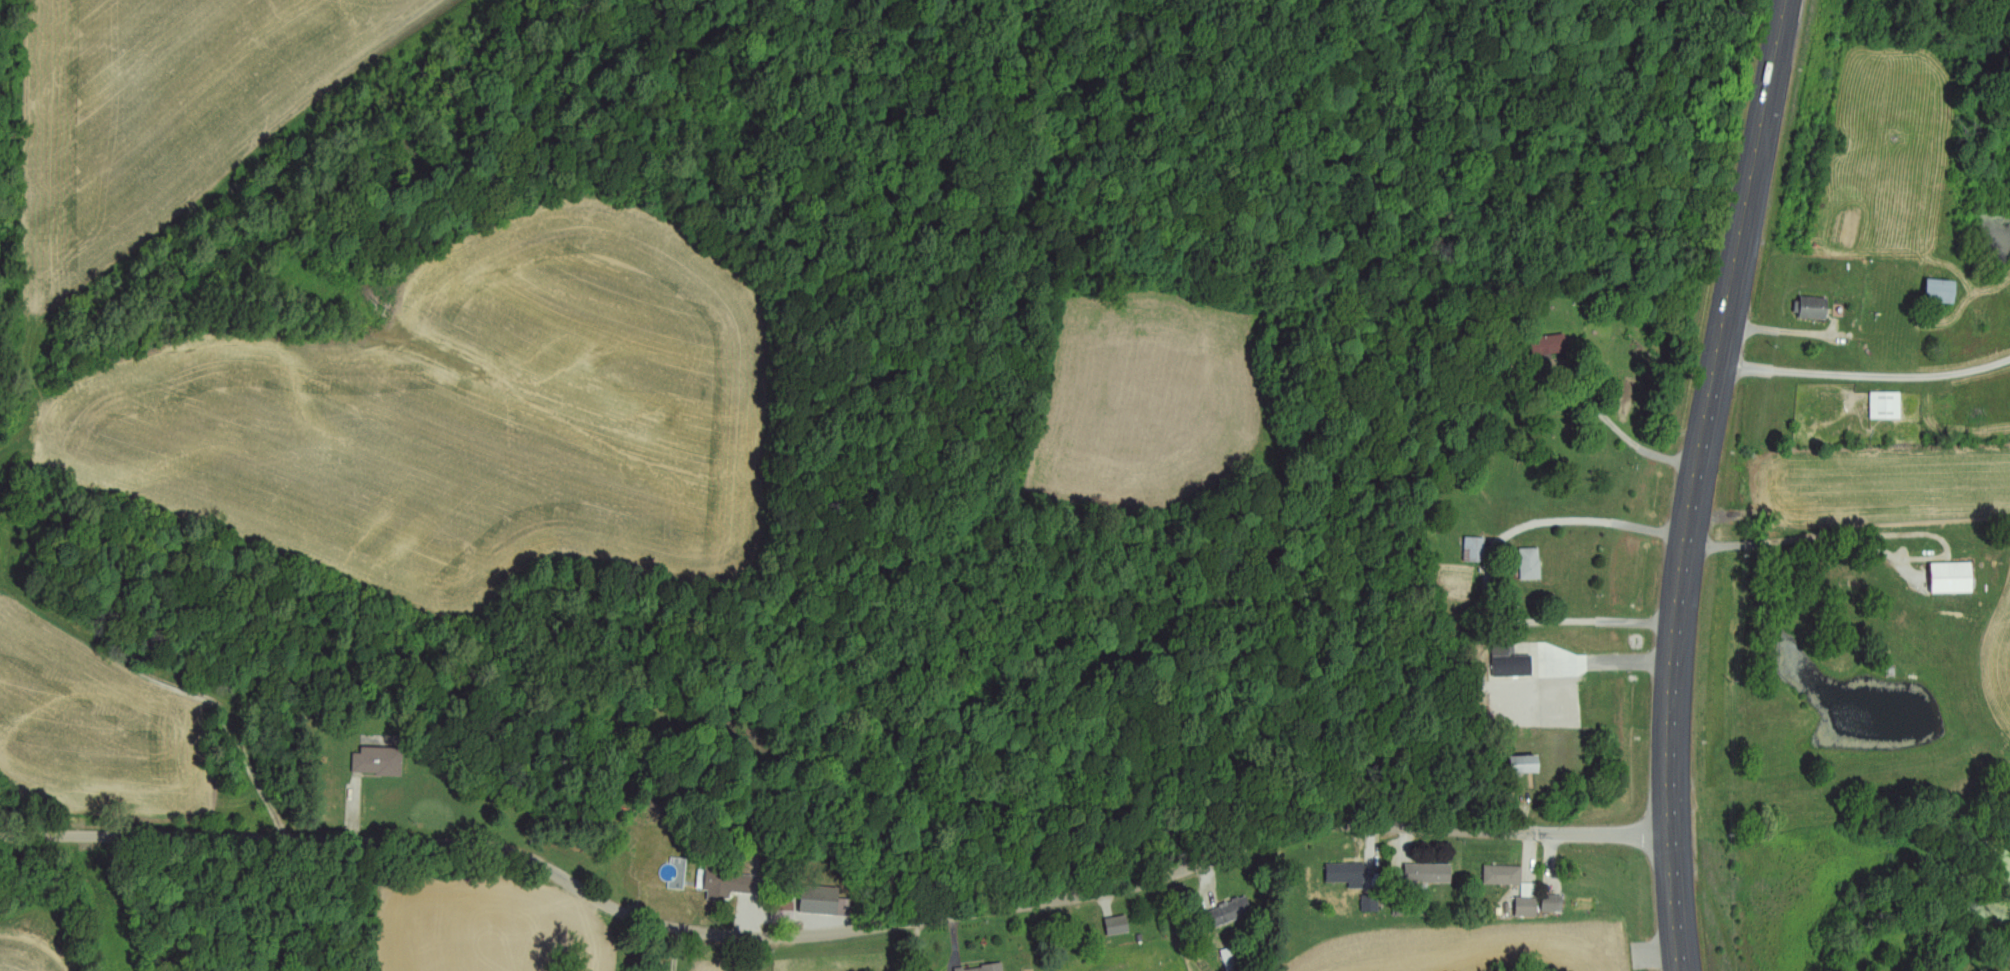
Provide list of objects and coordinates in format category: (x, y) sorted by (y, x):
building: (1940, 291)
building: (1812, 308)
road: (1864, 379)
building: (1887, 405)
road: (1637, 445)
road: (1697, 482)
road: (1592, 521)
road: (1805, 537)
building: (1475, 549)
building: (1531, 564)
building: (1952, 577)
building: (1513, 666)
building: (378, 761)
building: (1523, 765)
building: (1428, 873)
building: (1347, 874)
building: (1503, 875)
building: (824, 901)
building: (1528, 902)
building: (1553, 903)
building: (1229, 912)
building: (1117, 926)
road: (835, 932)

